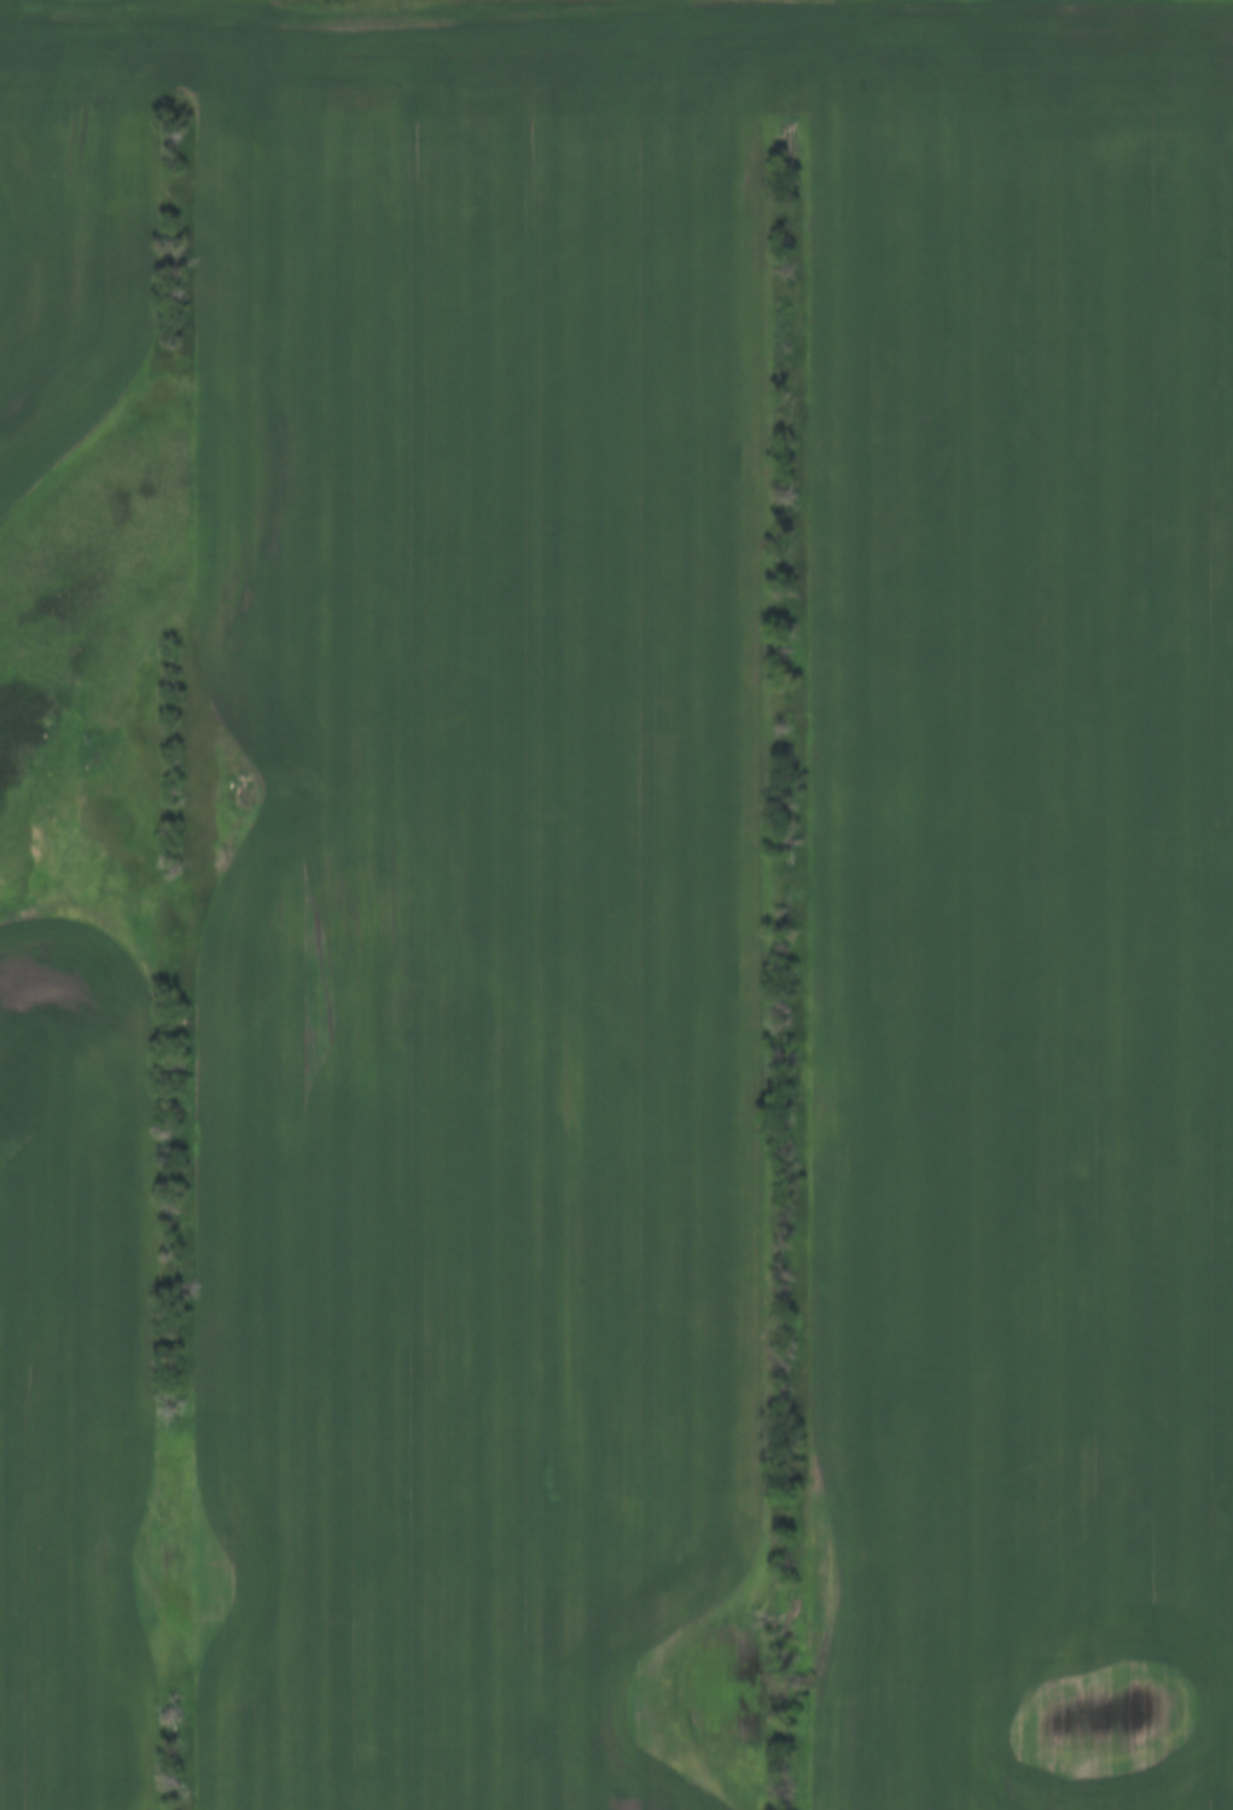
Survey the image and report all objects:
road: (616, 16)

